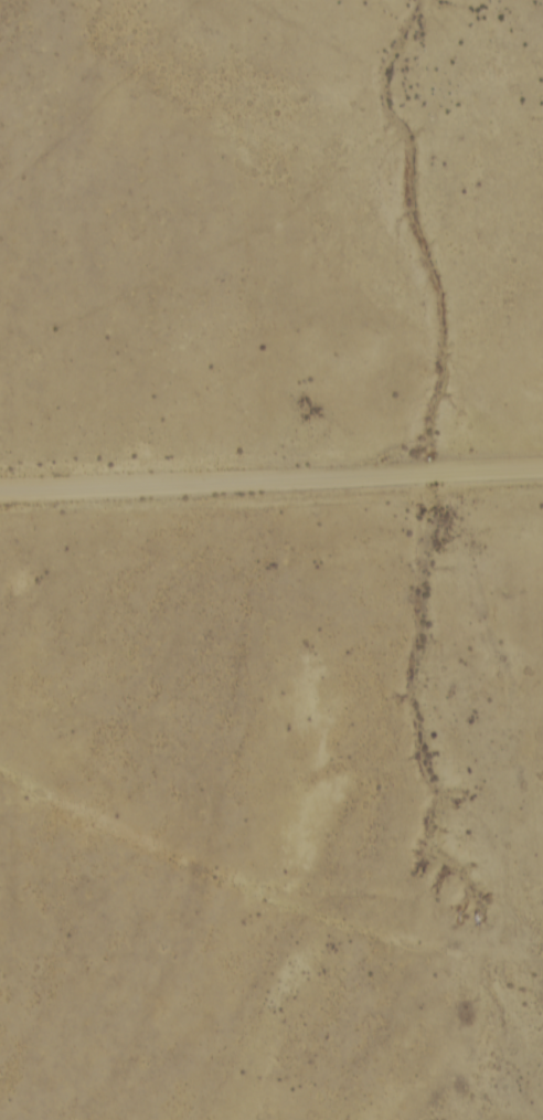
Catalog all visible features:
road: (271, 477)

